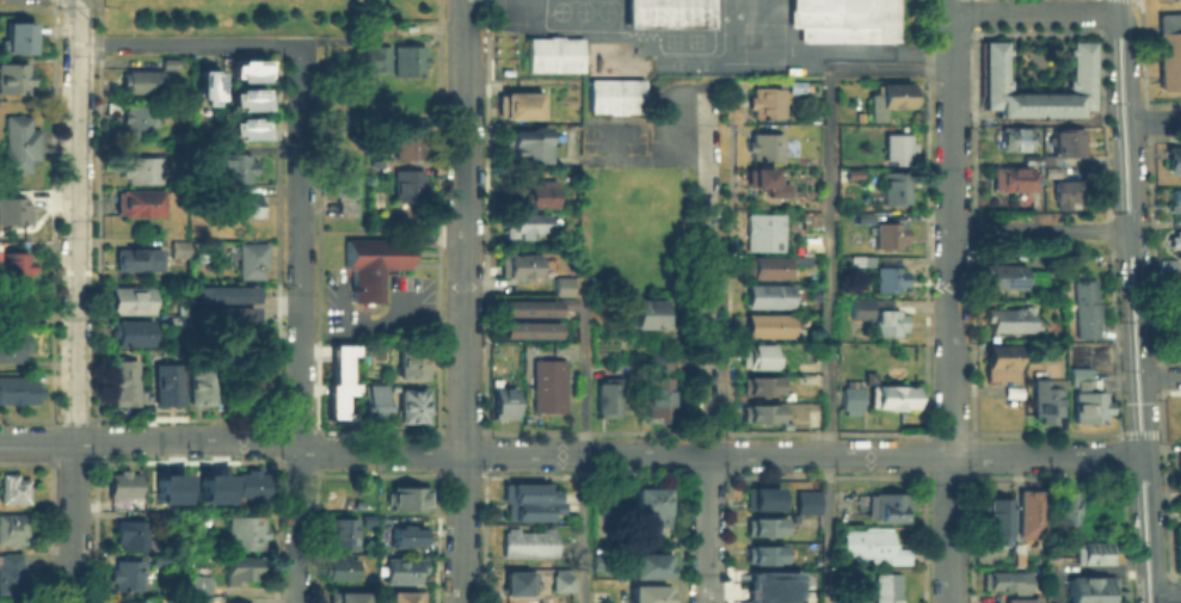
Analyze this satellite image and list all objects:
road: (948, 6)
road: (1038, 12)
building: (665, 13)
building: (843, 20)
building: (16, 37)
road: (187, 43)
building: (1171, 48)
building: (553, 54)
building: (369, 57)
building: (407, 60)
building: (171, 66)
building: (994, 66)
building: (250, 73)
building: (16, 80)
building: (142, 82)
building: (795, 84)
building: (208, 91)
building: (614, 94)
building: (887, 97)
building: (250, 101)
building: (764, 101)
building: (517, 105)
building: (113, 106)
building: (137, 122)
road: (707, 122)
road: (1156, 122)
building: (250, 130)
building: (410, 134)
building: (1013, 137)
building: (1064, 139)
building: (524, 144)
building: (763, 146)
building: (894, 146)
building: (23, 147)
road: (645, 156)
building: (1027, 156)
building: (1047, 156)
building: (1173, 161)
building: (1035, 166)
building: (142, 168)
building: (239, 170)
building: (1048, 170)
building: (1009, 176)
building: (1035, 177)
building: (759, 179)
building: (343, 181)
building: (894, 186)
building: (407, 191)
building: (1070, 191)
building: (539, 196)
building: (1175, 204)
building: (142, 205)
building: (247, 208)
building: (16, 213)
building: (811, 217)
road: (584, 221)
road: (1136, 226)
building: (527, 227)
road: (1044, 230)
building: (763, 233)
building: (887, 235)
building: (1175, 244)
road: (299, 246)
building: (177, 247)
building: (800, 258)
building: (857, 259)
building: (141, 263)
building: (256, 264)
building: (371, 264)
building: (516, 266)
building: (17, 267)
building: (768, 267)
road: (829, 272)
building: (1007, 277)
building: (886, 278)
building: (561, 287)
building: (813, 290)
building: (1176, 290)
building: (226, 295)
building: (768, 296)
road: (76, 301)
road: (463, 301)
building: (565, 302)
building: (136, 303)
building: (18, 304)
building: (525, 306)
road: (949, 306)
building: (1084, 307)
building: (182, 309)
building: (645, 314)
building: (227, 315)
building: (876, 318)
building: (1010, 319)
building: (179, 322)
building: (768, 326)
building: (524, 327)
building: (1176, 331)
building: (136, 336)
building: (14, 349)
building: (759, 356)
building: (339, 361)
building: (412, 363)
building: (999, 363)
building: (869, 375)
road: (1163, 377)
road: (707, 383)
building: (127, 384)
building: (548, 384)
building: (759, 384)
building: (256, 386)
building: (172, 387)
building: (203, 387)
building: (659, 388)
building: (17, 389)
building: (1010, 389)
building: (893, 394)
building: (1084, 395)
building: (850, 396)
building: (336, 398)
building: (607, 399)
building: (373, 400)
building: (499, 400)
building: (1046, 401)
building: (411, 406)
building: (759, 413)
road: (583, 443)
road: (573, 453)
building: (1179, 462)
building: (125, 485)
building: (254, 485)
building: (168, 487)
building: (211, 487)
building: (13, 490)
building: (406, 498)
building: (527, 499)
building: (759, 499)
building: (805, 502)
building: (652, 505)
building: (1180, 505)
building: (886, 506)
building: (1028, 512)
building: (1063, 512)
building: (995, 521)
road: (297, 524)
road: (1154, 524)
building: (763, 525)
building: (13, 530)
building: (340, 533)
building: (248, 535)
building: (404, 535)
building: (135, 537)
building: (528, 542)
building: (868, 543)
building: (1093, 552)
building: (763, 554)
building: (599, 561)
building: (648, 564)
building: (340, 567)
building: (400, 570)
building: (244, 572)
building: (10, 574)
building: (131, 578)
building: (561, 579)
building: (1003, 582)
building: (519, 583)
building: (203, 585)
building: (773, 586)
building: (885, 587)
building: (1090, 590)
building: (648, 595)
building: (599, 596)
road: (1169, 596)
building: (401, 597)
building: (1034, 597)
building: (346, 598)
road: (1158, 599)
building: (127, 601)
building: (199, 601)

